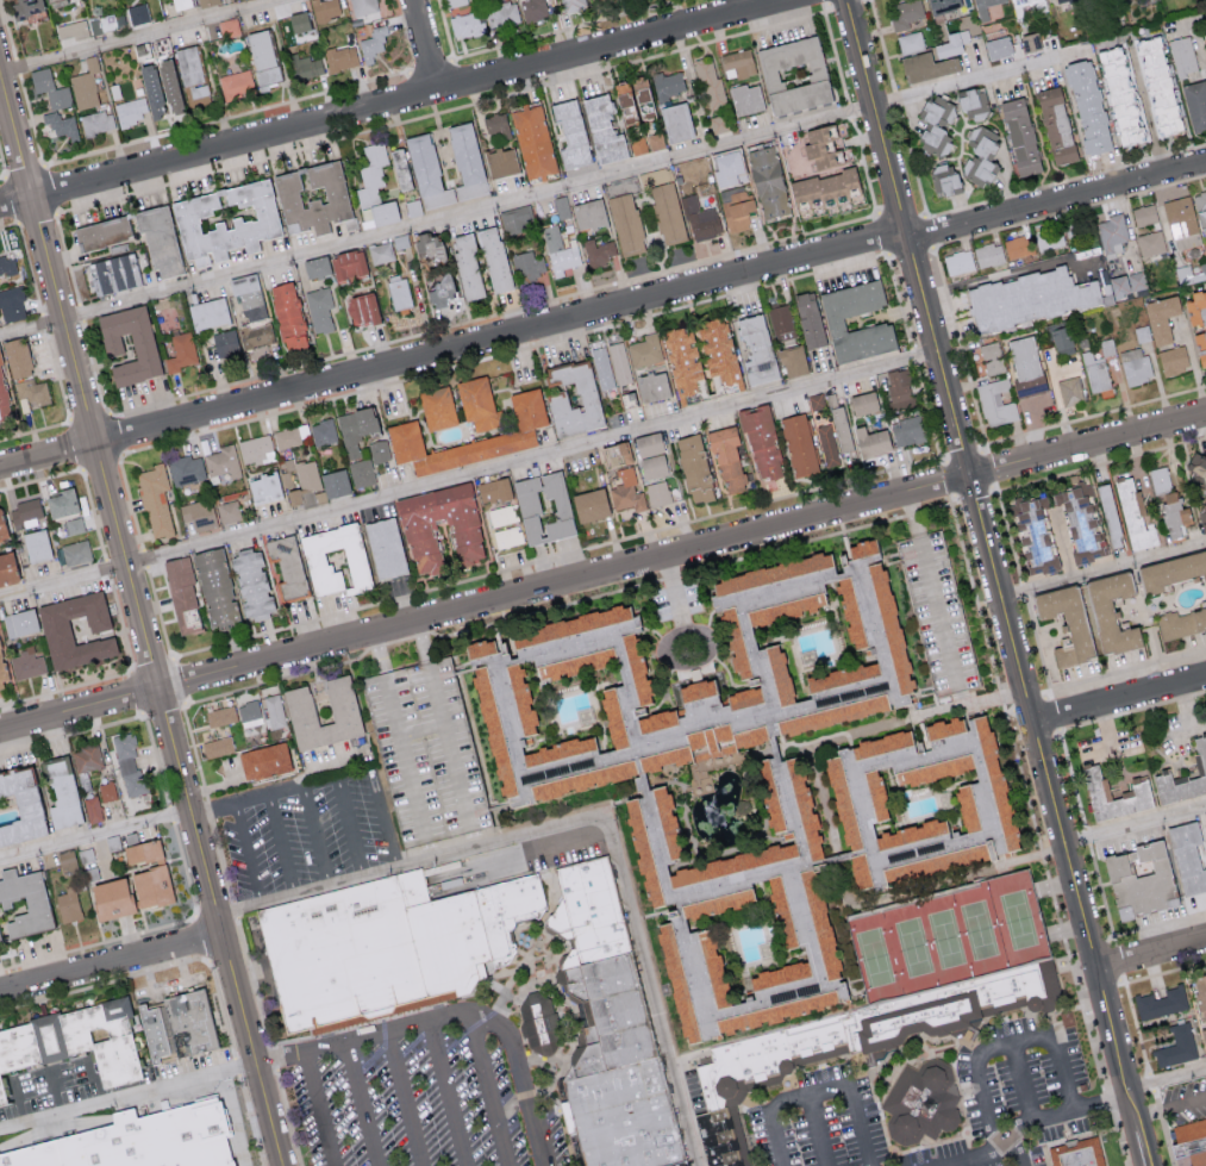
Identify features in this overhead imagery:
building: (594, 0)
building: (1057, 0)
building: (54, 2)
building: (207, 2)
building: (456, 2)
building: (180, 4)
building: (573, 5)
building: (942, 5)
building: (1026, 6)
building: (363, 7)
building: (983, 8)
building: (25, 10)
building: (324, 10)
building: (533, 10)
building: (138, 13)
building: (904, 13)
building: (502, 14)
building: (298, 21)
building: (101, 24)
building: (467, 24)
building: (227, 27)
building: (71, 30)
road: (137, 36)
building: (1205, 36)
building: (910, 42)
building: (1031, 42)
building: (373, 43)
road: (427, 45)
building: (948, 46)
building: (996, 48)
building: (1182, 56)
building: (261, 57)
building: (340, 57)
building: (737, 63)
building: (306, 66)
building: (926, 67)
building: (792, 75)
building: (190, 76)
building: (710, 82)
building: (236, 83)
building: (668, 85)
building: (168, 86)
building: (1157, 86)
building: (50, 88)
building: (83, 89)
building: (1119, 95)
building: (744, 99)
building: (142, 100)
building: (631, 100)
road: (393, 102)
building: (970, 102)
building: (1195, 104)
building: (1087, 106)
road: (1148, 108)
road: (879, 117)
building: (98, 121)
building: (676, 121)
building: (933, 124)
building: (62, 125)
building: (1055, 125)
building: (499, 129)
building: (601, 130)
building: (570, 133)
building: (1019, 137)
building: (532, 141)
building: (655, 141)
building: (638, 144)
building: (819, 146)
building: (979, 156)
building: (732, 158)
building: (465, 161)
building: (499, 162)
building: (399, 169)
building: (943, 179)
building: (766, 182)
building: (374, 186)
building: (821, 187)
road: (538, 193)
road: (1056, 195)
building: (311, 198)
building: (663, 204)
building: (1200, 206)
building: (561, 207)
building: (736, 207)
building: (588, 214)
building: (1143, 214)
building: (515, 219)
building: (700, 219)
building: (224, 220)
building: (1181, 223)
building: (625, 224)
building: (104, 232)
building: (1111, 233)
building: (158, 239)
building: (1049, 241)
building: (1151, 243)
building: (1021, 245)
building: (427, 248)
building: (561, 251)
building: (598, 251)
building: (380, 252)
building: (988, 255)
building: (493, 258)
building: (957, 262)
building: (7, 264)
building: (346, 264)
building: (465, 266)
building: (526, 266)
building: (315, 267)
road: (1002, 272)
building: (112, 274)
building: (1137, 280)
building: (1118, 286)
building: (439, 291)
building: (399, 292)
building: (246, 297)
building: (1027, 298)
building: (11, 304)
building: (319, 308)
building: (362, 310)
building: (207, 313)
building: (287, 317)
building: (1161, 318)
building: (780, 319)
building: (832, 319)
building: (807, 320)
building: (257, 335)
building: (1061, 339)
building: (142, 344)
building: (227, 345)
building: (755, 349)
building: (644, 350)
building: (717, 350)
building: (181, 351)
road: (452, 351)
building: (15, 357)
road: (937, 357)
building: (992, 357)
building: (682, 360)
building: (1173, 360)
building: (792, 361)
building: (620, 363)
building: (1025, 366)
building: (1135, 366)
building: (604, 367)
building: (1095, 372)
building: (651, 387)
building: (898, 389)
building: (1070, 389)
building: (31, 392)
building: (587, 400)
building: (4, 401)
building: (816, 401)
building: (477, 404)
building: (862, 404)
building: (436, 409)
building: (355, 429)
building: (401, 429)
building: (839, 429)
building: (906, 431)
building: (323, 432)
building: (289, 436)
building: (869, 442)
building: (760, 443)
building: (826, 444)
building: (648, 445)
building: (798, 445)
building: (256, 449)
building: (380, 451)
building: (726, 461)
building: (223, 464)
building: (651, 467)
building: (693, 468)
building: (187, 469)
building: (362, 472)
building: (1198, 472)
road: (468, 475)
building: (1160, 480)
building: (314, 482)
building: (264, 488)
building: (494, 491)
building: (627, 493)
building: (657, 493)
building: (155, 500)
building: (61, 504)
building: (588, 505)
building: (542, 509)
building: (230, 511)
building: (26, 513)
building: (1173, 513)
building: (198, 515)
building: (500, 515)
building: (1108, 516)
building: (1133, 517)
building: (1202, 517)
building: (1080, 522)
building: (75, 525)
building: (1, 530)
building: (506, 537)
building: (1033, 537)
building: (419, 540)
building: (36, 545)
building: (383, 549)
building: (76, 551)
building: (335, 560)
building: (286, 567)
building: (6, 569)
road: (1102, 569)
building: (1171, 572)
road: (602, 575)
building: (250, 585)
building: (213, 590)
road: (932, 592)
building: (181, 596)
building: (938, 610)
building: (1110, 611)
road: (138, 618)
building: (762, 618)
building: (19, 623)
building: (1063, 623)
building: (1181, 623)
building: (55, 630)
road: (710, 635)
building: (480, 649)
building: (574, 656)
building: (26, 663)
building: (2, 671)
building: (427, 674)
building: (694, 674)
building: (775, 674)
building: (0, 686)
road: (1118, 698)
building: (343, 706)
building: (274, 711)
building: (249, 713)
building: (220, 716)
building: (827, 716)
building: (610, 719)
building: (652, 722)
road: (1105, 728)
road: (421, 729)
building: (942, 730)
building: (489, 732)
building: (732, 740)
building: (218, 747)
building: (87, 757)
building: (264, 762)
building: (129, 763)
road: (319, 767)
building: (930, 772)
road: (356, 774)
building: (1183, 778)
building: (992, 780)
road: (320, 785)
building: (1095, 787)
building: (107, 791)
building: (61, 794)
building: (873, 796)
building: (702, 808)
building: (18, 809)
building: (93, 809)
building: (963, 809)
building: (801, 810)
road: (386, 818)
road: (583, 822)
road: (150, 823)
building: (663, 823)
road: (1057, 823)
road: (1135, 825)
road: (351, 828)
road: (469, 828)
road: (315, 836)
road: (569, 843)
road: (281, 846)
building: (142, 852)
building: (964, 852)
building: (85, 854)
road: (248, 854)
building: (638, 854)
building: (1186, 859)
building: (67, 860)
building: (731, 866)
road: (476, 868)
building: (856, 872)
building: (1138, 883)
building: (150, 887)
building: (108, 899)
building: (24, 903)
building: (68, 905)
building: (776, 914)
building: (474, 934)
building: (0, 937)
building: (687, 954)
building: (350, 955)
road: (1151, 955)
road: (111, 961)
building: (1161, 1002)
building: (1201, 1003)
road: (458, 1015)
building: (542, 1022)
building: (175, 1023)
building: (613, 1033)
building: (75, 1040)
road: (1006, 1045)
building: (1177, 1046)
building: (735, 1061)
road: (96, 1080)
road: (1024, 1081)
road: (1167, 1083)
road: (490, 1089)
road: (57, 1090)
building: (1, 1092)
road: (819, 1093)
parking lot: (429, 1095)
road: (449, 1095)
road: (127, 1097)
road: (407, 1099)
road: (19, 1100)
building: (925, 1100)
parking lot: (943, 1100)
road: (361, 1105)
road: (1170, 1108)
road: (323, 1110)
road: (1062, 1112)
road: (817, 1131)
building: (167, 1137)
building: (1189, 1143)
road: (987, 1152)
building: (37, 1154)
building: (1079, 1154)

